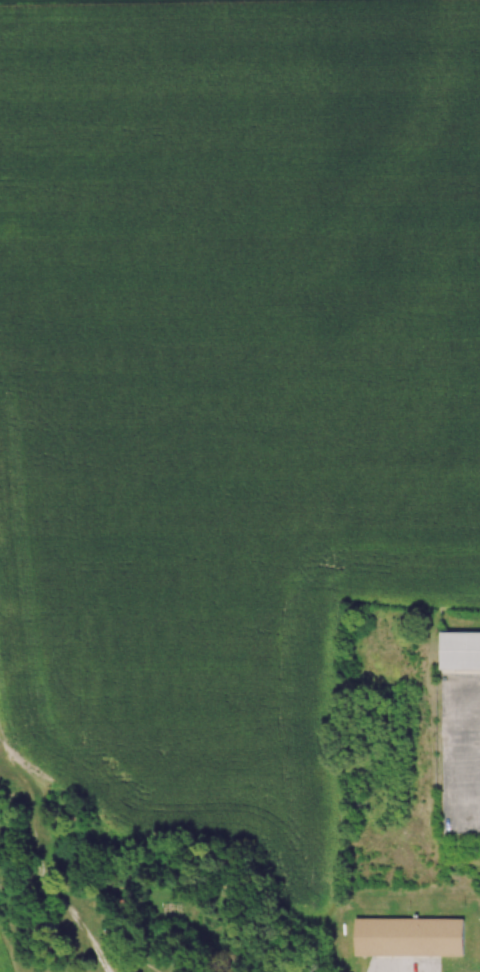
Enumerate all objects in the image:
road: (447, 756)
road: (89, 939)

